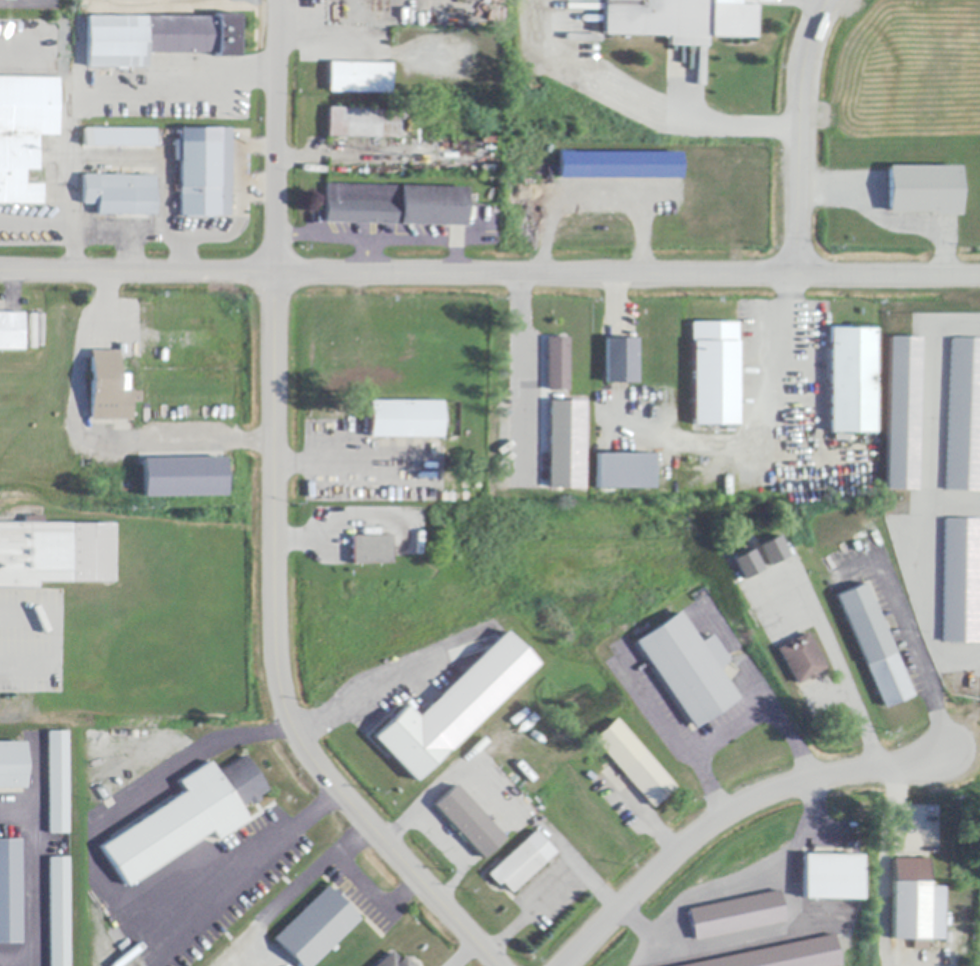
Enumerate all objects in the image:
building: (679, 20)
building: (158, 39)
building: (359, 78)
road: (114, 87)
road: (718, 122)
building: (363, 123)
building: (24, 134)
road: (800, 135)
building: (124, 138)
road: (153, 160)
building: (617, 164)
road: (236, 171)
building: (205, 173)
road: (257, 186)
building: (923, 190)
building: (120, 194)
building: (395, 206)
road: (60, 221)
road: (122, 223)
road: (887, 223)
road: (202, 234)
road: (182, 253)
road: (489, 273)
building: (12, 332)
building: (620, 362)
building: (557, 365)
building: (714, 374)
building: (851, 380)
building: (110, 389)
building: (901, 414)
building: (446, 415)
building: (963, 418)
building: (404, 420)
road: (774, 437)
road: (89, 439)
building: (564, 443)
building: (624, 472)
building: (182, 476)
road: (928, 485)
road: (954, 503)
road: (274, 523)
building: (771, 550)
building: (371, 551)
building: (55, 554)
building: (745, 563)
building: (959, 580)
road: (911, 636)
building: (873, 646)
building: (801, 659)
road: (837, 668)
building: (688, 669)
building: (454, 709)
road: (737, 728)
building: (634, 764)
building: (12, 766)
building: (58, 783)
road: (130, 802)
road: (727, 813)
building: (187, 819)
building: (467, 823)
road: (439, 841)
road: (258, 850)
building: (521, 863)
building: (831, 877)
building: (10, 892)
road: (555, 892)
building: (915, 905)
building: (59, 912)
building: (734, 914)
building: (317, 928)
road: (463, 952)
building: (776, 956)
building: (394, 961)

